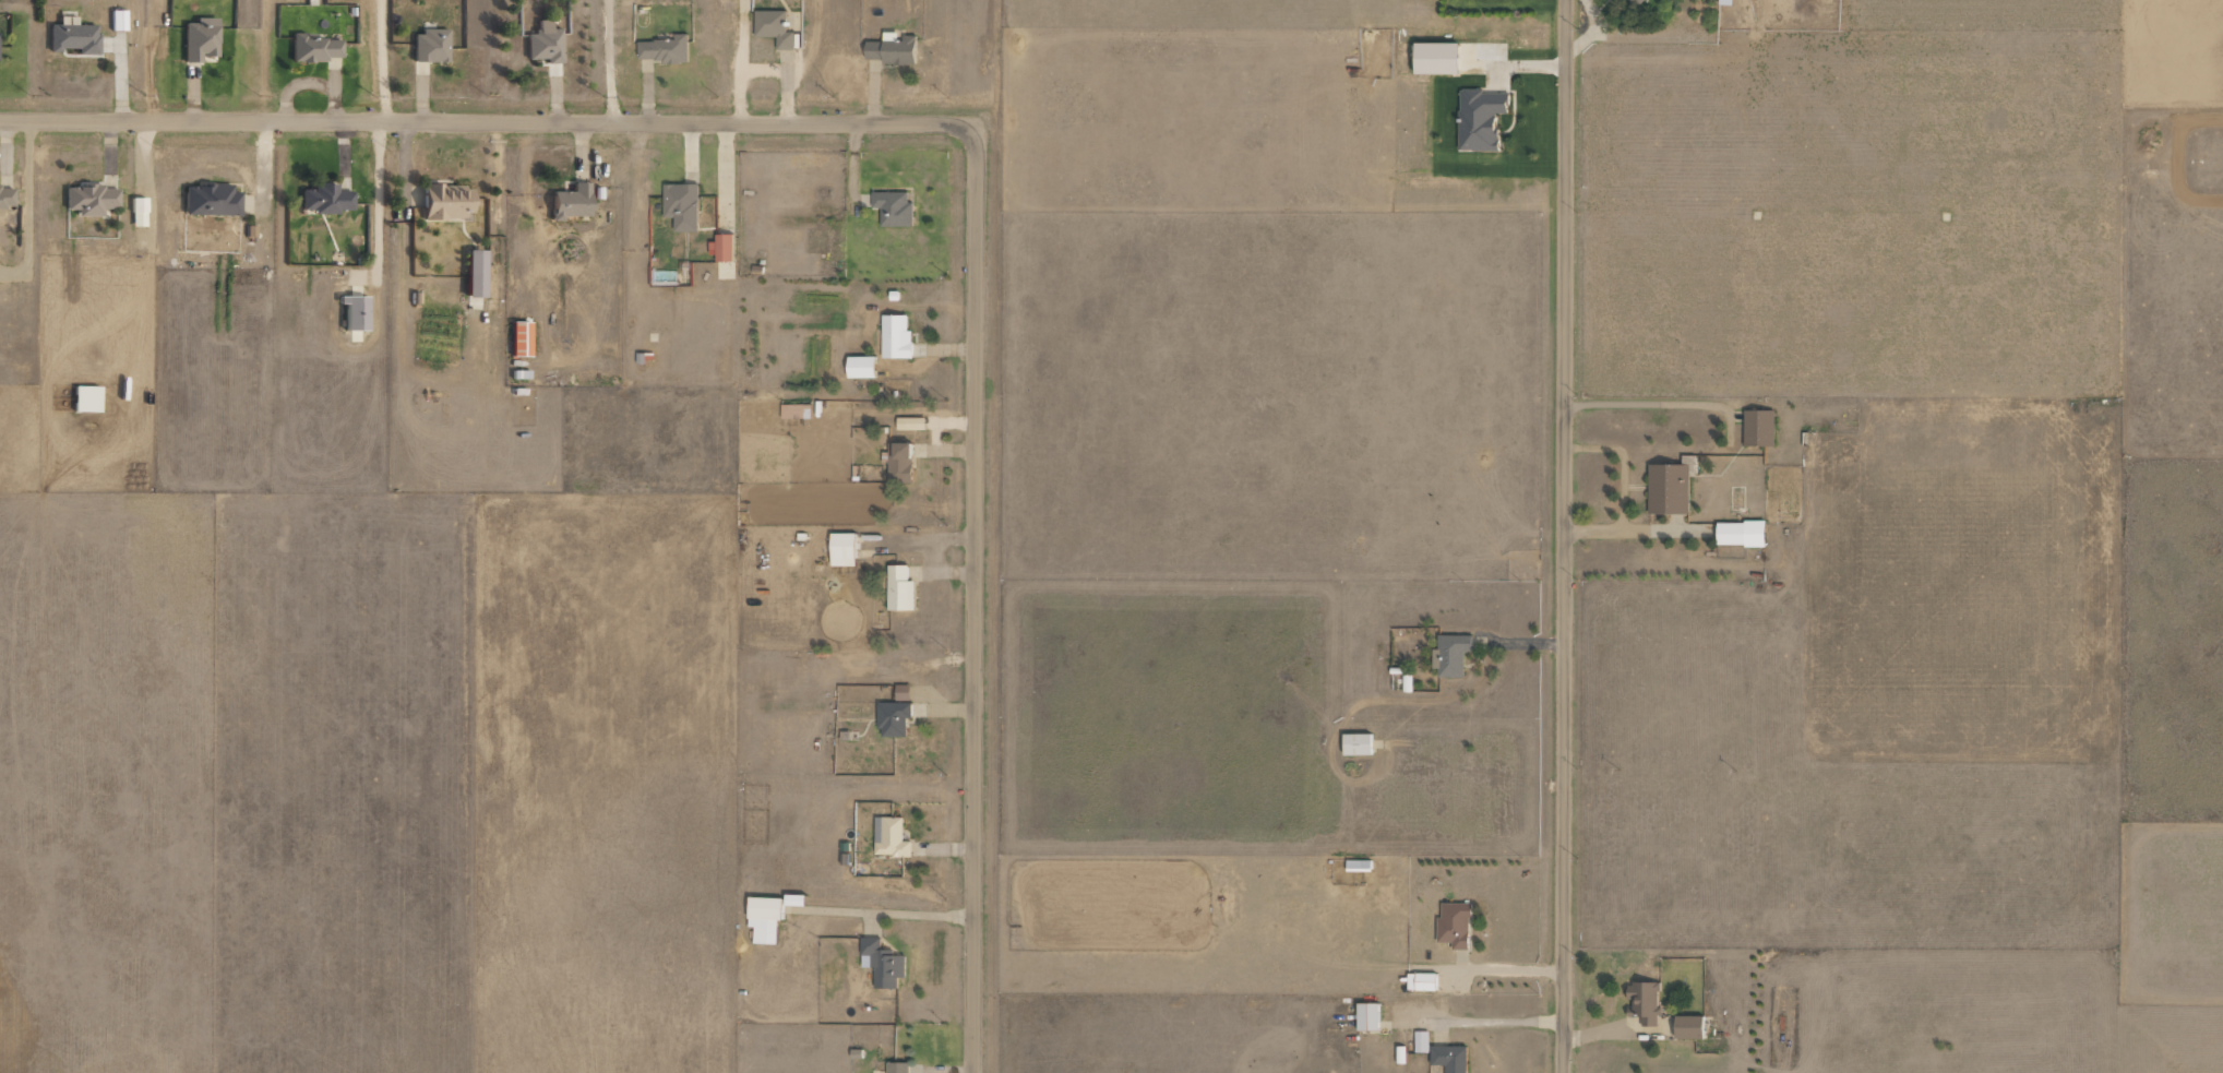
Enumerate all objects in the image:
building: (1642, 1)
building: (1725, 1)
building: (117, 20)
building: (773, 27)
building: (72, 36)
building: (199, 38)
building: (543, 43)
building: (429, 45)
building: (312, 47)
building: (662, 48)
building: (891, 48)
building: (1435, 56)
building: (1479, 118)
road: (488, 123)
building: (5, 196)
building: (88, 199)
building: (324, 199)
building: (210, 200)
building: (444, 200)
building: (569, 201)
building: (681, 204)
building: (893, 207)
building: (138, 211)
building: (721, 247)
building: (473, 273)
building: (352, 311)
building: (895, 336)
building: (518, 338)
building: (860, 366)
building: (84, 398)
building: (796, 410)
building: (910, 422)
building: (1758, 427)
building: (899, 462)
building: (1668, 488)
building: (1740, 533)
road: (1564, 536)
building: (841, 548)
building: (899, 588)
road: (975, 599)
building: (1450, 655)
building: (1406, 682)
building: (901, 692)
building: (893, 717)
building: (1356, 743)
building: (889, 837)
building: (793, 899)
building: (764, 918)
building: (1454, 923)
building: (882, 963)
building: (1421, 981)
building: (1644, 1001)
building: (1367, 1015)
building: (1688, 1026)
building: (1421, 1041)
building: (1449, 1058)
building: (897, 1066)

